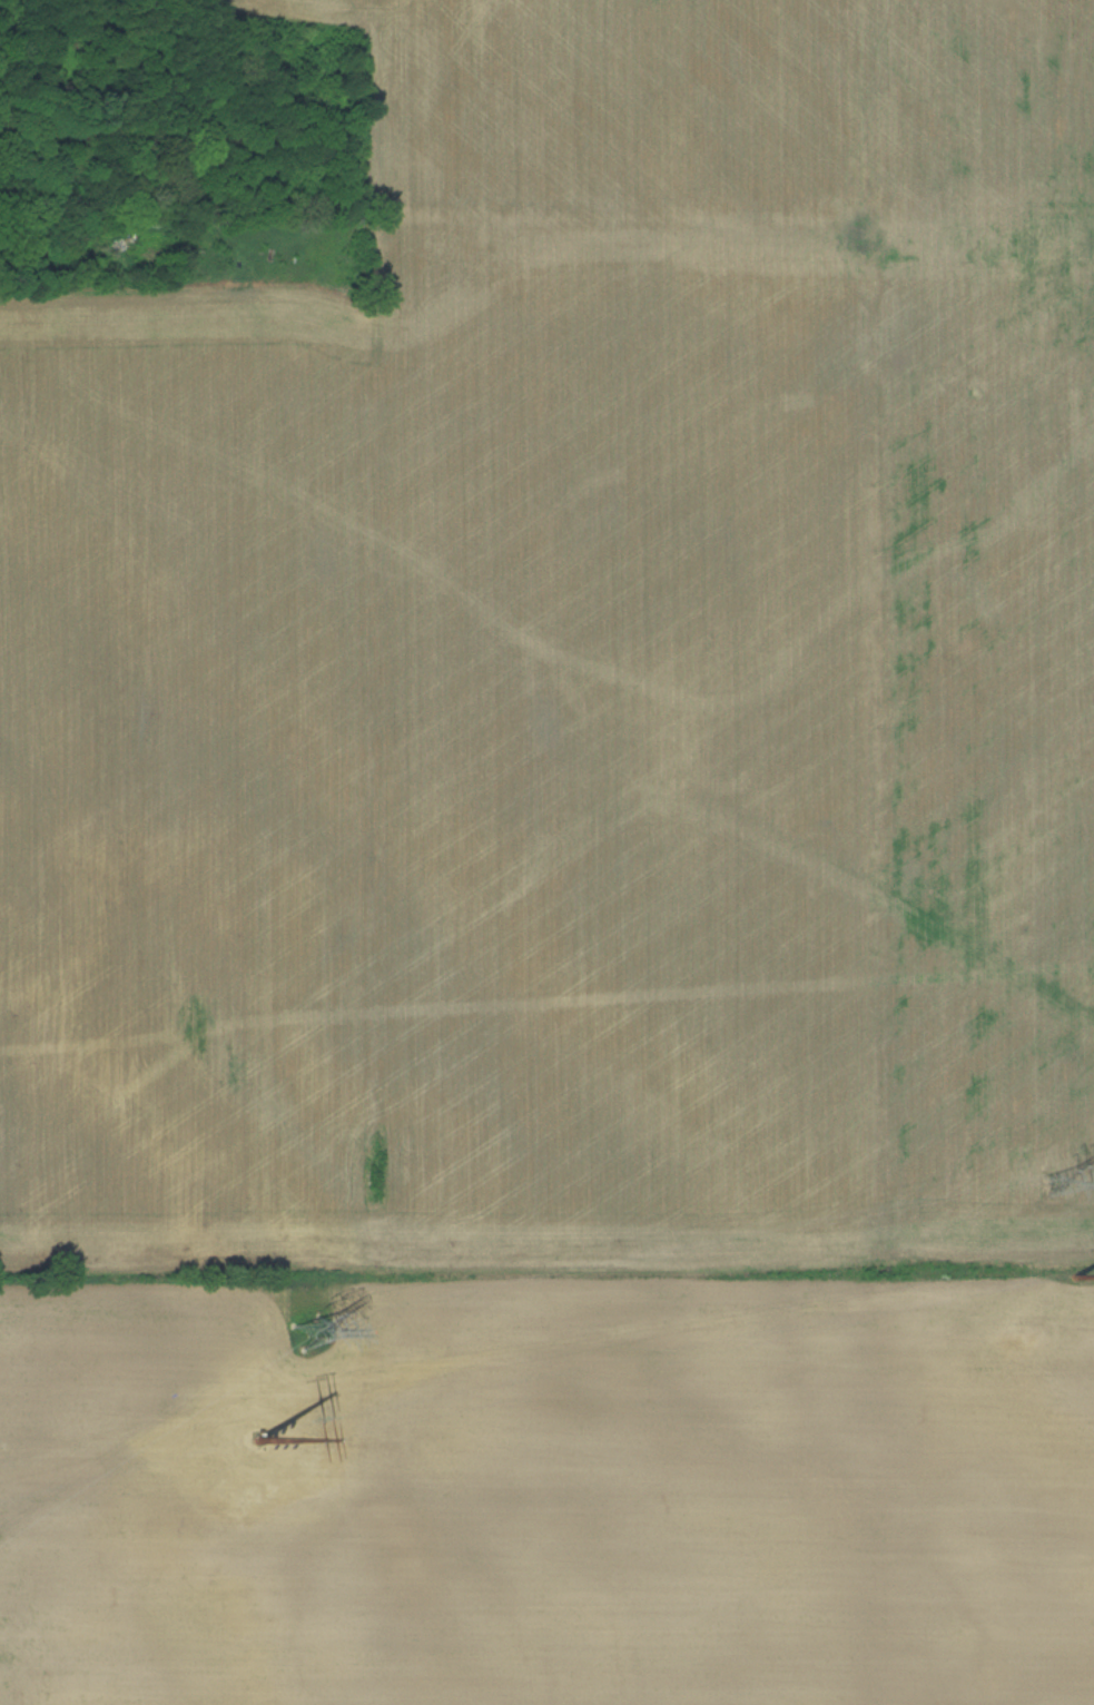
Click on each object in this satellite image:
power tower: (1054, 1183)
power tower: (1072, 1275)
power tower: (311, 1332)
power tower: (259, 1438)

